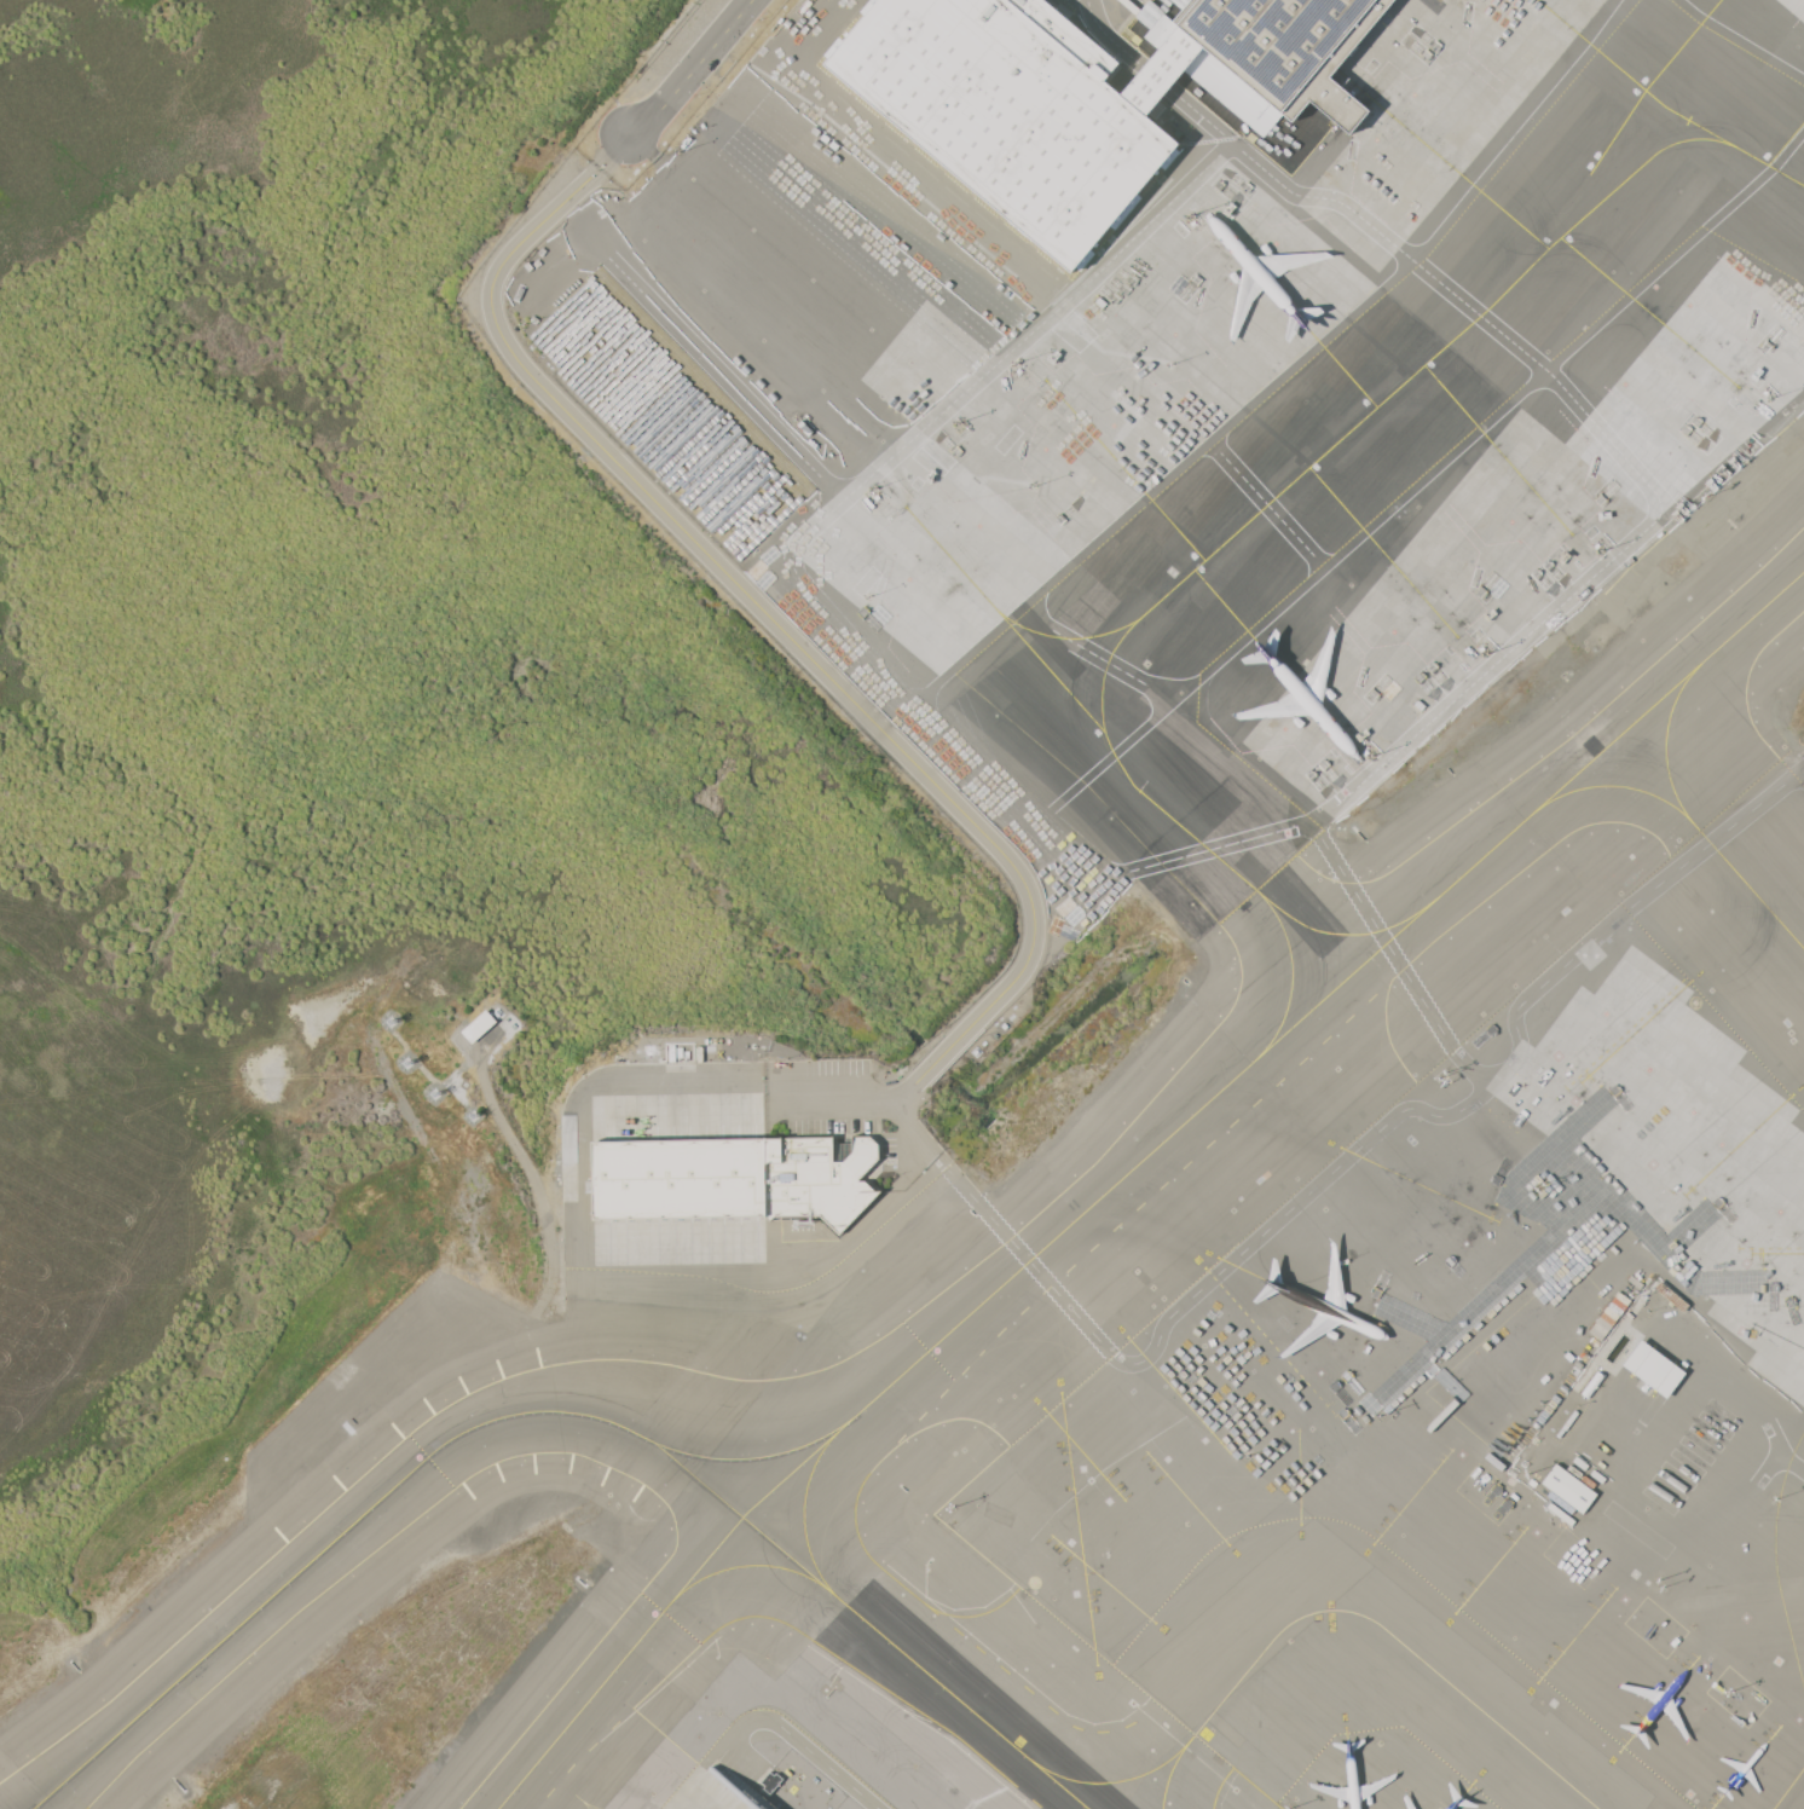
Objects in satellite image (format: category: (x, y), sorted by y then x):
road: (1108, 37)
road: (1740, 41)
building: (1286, 47)
road: (690, 69)
road: (1155, 77)
building: (1017, 108)
airport taxiway: (1765, 164)
airport taxiway: (1440, 346)
road: (1293, 366)
airport apron: (1352, 427)
road: (1602, 434)
road: (1427, 474)
road: (1266, 504)
road: (798, 580)
road: (767, 615)
road: (1094, 654)
airport taxiway: (1666, 741)
airport taxiway: (1114, 757)
road: (1802, 773)
airport taxiway: (1614, 785)
airport taxiway: (1746, 884)
airport: (902, 904)
airport taxiway: (1342, 934)
road: (1387, 947)
airport taxiway: (1291, 971)
building: (478, 1025)
road: (826, 1097)
airport apron: (1677, 1148)
airport taxiway: (1131, 1169)
road: (1329, 1173)
building: (729, 1178)
building: (1652, 1368)
airport taxiway: (686, 1410)
airport taxiway: (615, 1423)
road: (1777, 1455)
road: (1791, 1462)
building: (1566, 1487)
road: (1413, 1493)
airport taxiway: (804, 1515)
airport taxiway: (739, 1566)
airport taxiway: (245, 1618)
airport taxiway: (1397, 1638)
airport taxiway: (915, 1663)
road: (805, 1747)
road: (746, 1753)
airport taxiway: (1172, 1769)
airport apron: (779, 1770)
building: (769, 1780)
airport taxiway: (1115, 1782)

